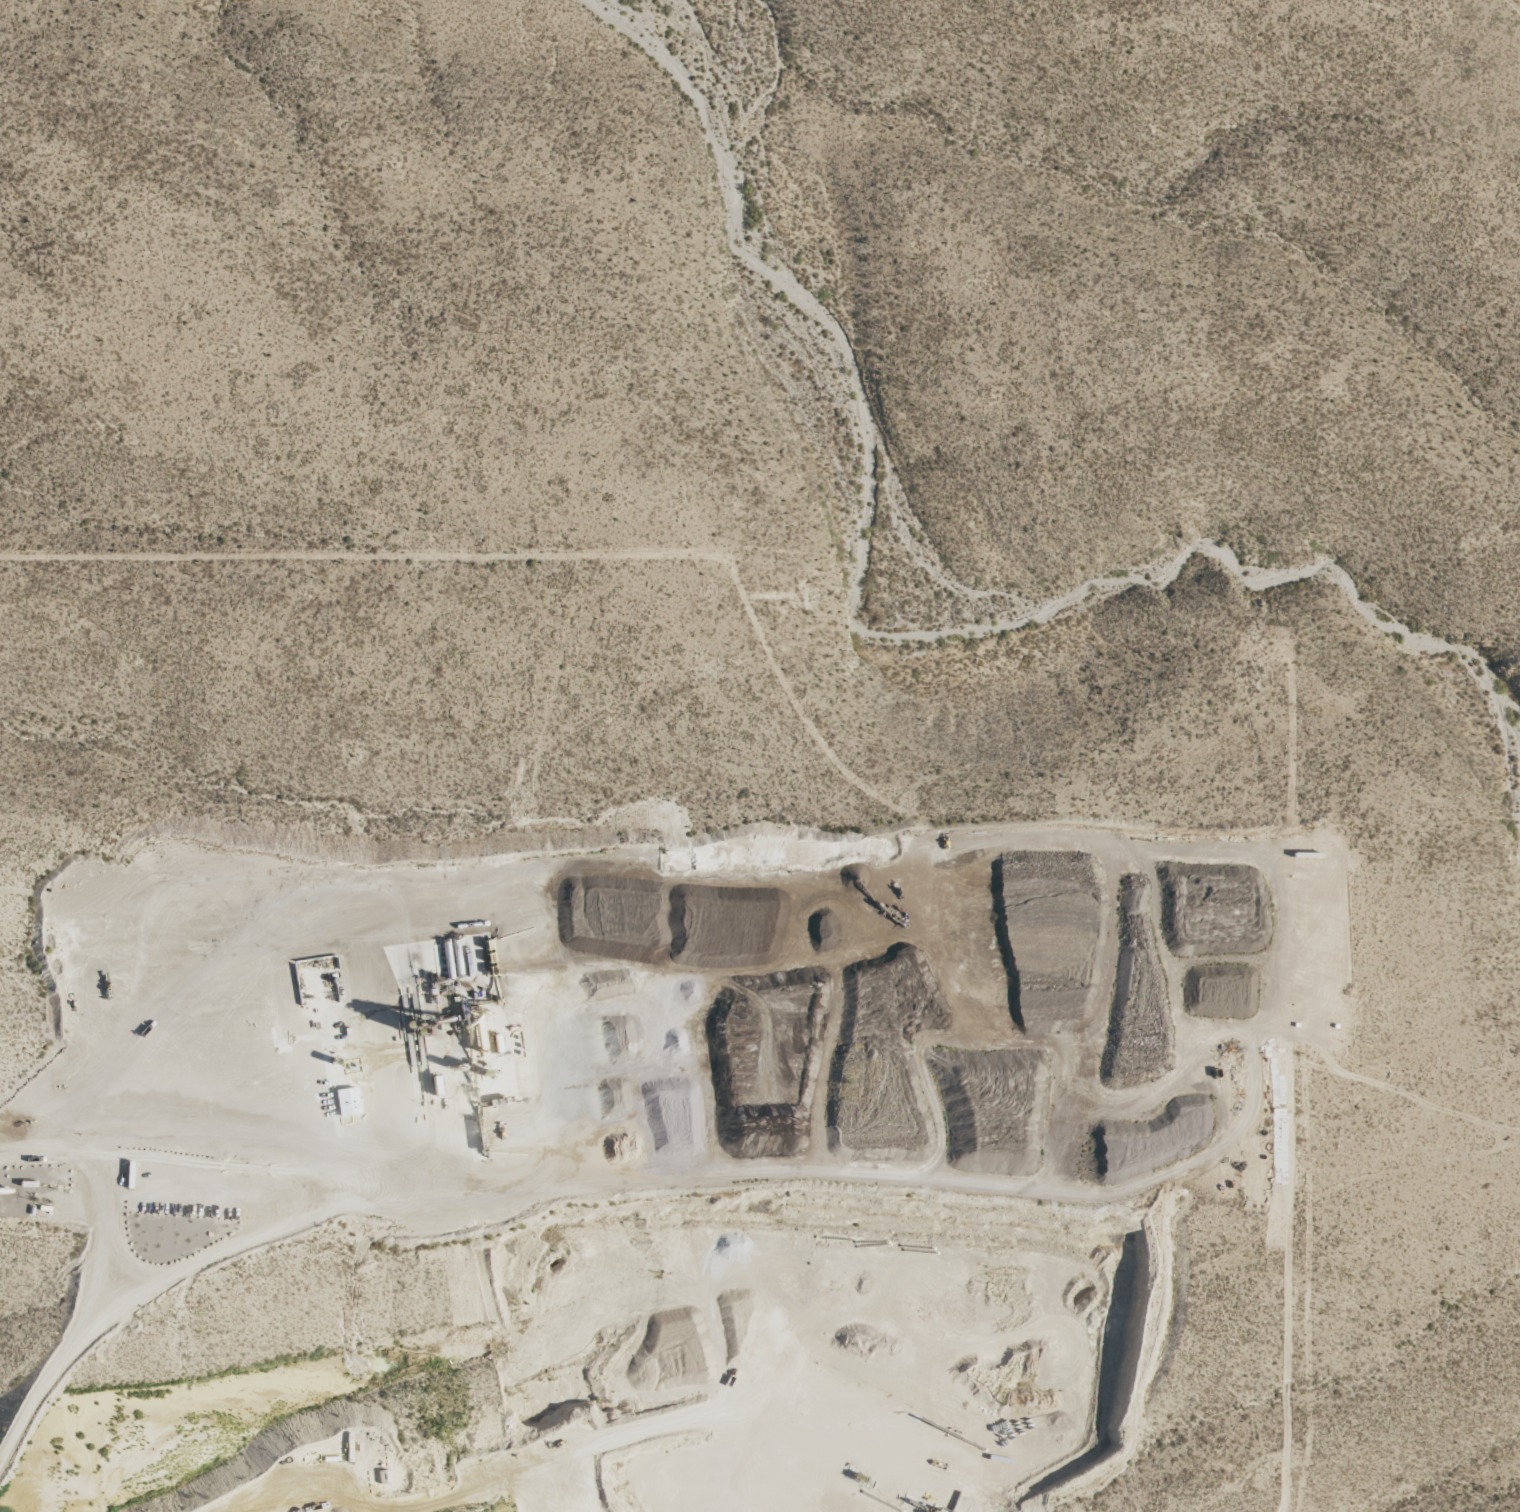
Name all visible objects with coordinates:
road: (39, 1153)

